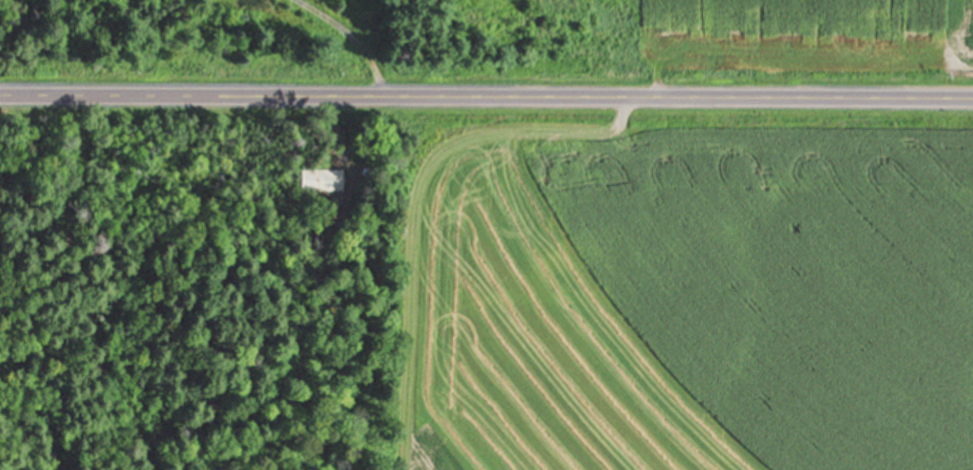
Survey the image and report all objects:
river: (17, 53)
road: (486, 98)
building: (319, 170)
building: (322, 181)
river: (33, 382)

